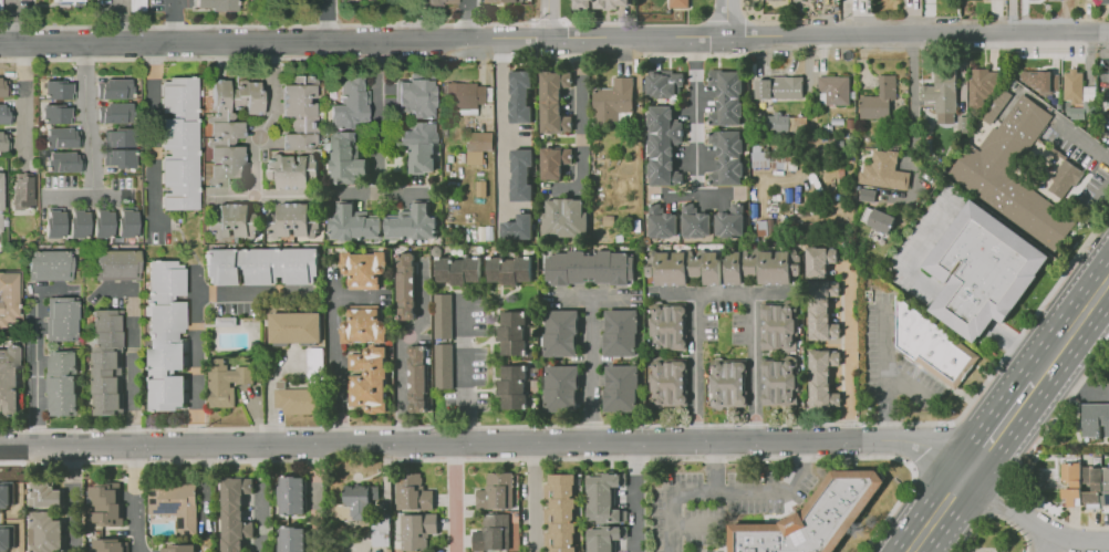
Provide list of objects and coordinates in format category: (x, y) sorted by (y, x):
building: (497, 0)
building: (68, 1)
building: (1103, 1)
building: (432, 2)
building: (678, 2)
building: (218, 3)
building: (601, 3)
road: (45, 4)
building: (0, 6)
building: (138, 6)
road: (99, 12)
parking lot: (122, 12)
parking lot: (17, 13)
road: (34, 13)
road: (730, 18)
road: (846, 18)
road: (467, 19)
road: (547, 19)
road: (927, 19)
road: (1010, 19)
road: (14, 20)
road: (327, 20)
road: (120, 21)
road: (175, 21)
road: (322, 25)
road: (537, 38)
road: (554, 38)
road: (804, 45)
parking lot: (1102, 46)
road: (348, 56)
road: (481, 59)
road: (1089, 59)
road: (863, 60)
road: (809, 61)
road: (776, 71)
building: (1040, 80)
building: (663, 82)
building: (982, 84)
building: (3, 85)
building: (114, 86)
building: (779, 86)
building: (61, 88)
building: (835, 88)
building: (942, 93)
building: (467, 95)
building: (520, 95)
building: (726, 95)
building: (414, 96)
building: (1078, 96)
building: (879, 97)
road: (913, 100)
road: (24, 101)
building: (350, 102)
building: (553, 102)
building: (614, 102)
building: (996, 106)
building: (298, 111)
building: (115, 112)
building: (6, 113)
building: (59, 113)
road: (580, 114)
road: (695, 115)
road: (375, 116)
road: (84, 118)
building: (776, 122)
building: (962, 124)
building: (229, 125)
road: (635, 128)
building: (120, 135)
building: (61, 136)
road: (156, 136)
road: (258, 138)
building: (4, 139)
road: (501, 139)
building: (178, 142)
road: (1081, 143)
building: (478, 144)
building: (662, 144)
building: (419, 146)
building: (727, 156)
building: (120, 157)
building: (345, 158)
building: (63, 162)
building: (554, 162)
parking lot: (1081, 162)
building: (986, 164)
building: (292, 167)
building: (883, 169)
building: (520, 175)
building: (1065, 178)
building: (0, 189)
building: (22, 189)
road: (563, 191)
road: (283, 194)
road: (382, 194)
road: (87, 196)
road: (694, 196)
road: (1097, 198)
building: (563, 215)
building: (234, 219)
building: (877, 219)
building: (77, 220)
building: (102, 220)
building: (125, 220)
building: (292, 220)
building: (609, 220)
building: (729, 220)
building: (0, 221)
building: (53, 221)
building: (662, 221)
building: (412, 222)
building: (694, 222)
building: (352, 223)
building: (518, 228)
road: (183, 236)
building: (621, 237)
building: (819, 259)
building: (117, 263)
building: (262, 263)
building: (49, 264)
building: (683, 264)
building: (757, 264)
parking lot: (905, 264)
building: (590, 265)
road: (198, 267)
building: (509, 268)
building: (363, 269)
building: (457, 270)
building: (982, 270)
road: (197, 281)
building: (407, 283)
road: (677, 293)
road: (723, 293)
road: (769, 293)
road: (940, 293)
building: (8, 294)
road: (359, 295)
road: (594, 295)
flagpole: (1034, 296)
flagpole: (1026, 308)
building: (822, 309)
building: (442, 315)
road: (197, 316)
building: (62, 317)
building: (364, 322)
building: (296, 325)
building: (778, 325)
building: (668, 326)
building: (512, 331)
building: (621, 331)
building: (561, 332)
building: (165, 334)
road: (848, 345)
building: (932, 345)
road: (402, 348)
road: (335, 356)
road: (884, 356)
building: (107, 361)
parking lot: (892, 363)
building: (313, 364)
building: (442, 365)
road: (1094, 365)
road: (133, 369)
road: (590, 369)
road: (462, 371)
road: (35, 373)
building: (417, 377)
building: (822, 377)
building: (8, 378)
building: (369, 378)
building: (778, 381)
building: (62, 382)
building: (225, 382)
building: (668, 382)
building: (727, 382)
road: (905, 384)
road: (1076, 384)
building: (512, 386)
building: (561, 387)
building: (621, 387)
road: (271, 390)
building: (298, 398)
road: (1009, 415)
road: (257, 417)
building: (1095, 419)
road: (607, 424)
road: (887, 424)
road: (930, 444)
road: (569, 445)
building: (1097, 461)
road: (910, 466)
road: (715, 468)
road: (385, 473)
road: (1014, 479)
building: (1071, 483)
building: (1091, 483)
building: (1106, 487)
road: (205, 488)
building: (413, 491)
building: (498, 491)
building: (44, 492)
building: (291, 493)
road: (729, 494)
building: (604, 497)
road: (454, 498)
road: (533, 498)
road: (634, 498)
road: (262, 499)
road: (317, 499)
road: (1002, 499)
road: (71, 501)
road: (135, 501)
building: (364, 501)
building: (105, 502)
building: (175, 503)
building: (561, 511)
building: (6, 512)
building: (235, 513)
building: (813, 518)
road: (993, 518)
road: (692, 523)
building: (416, 529)
building: (44, 530)
building: (491, 531)
building: (604, 537)
building: (291, 538)
road: (1048, 542)
building: (112, 544)
building: (180, 546)
road: (1036, 546)

